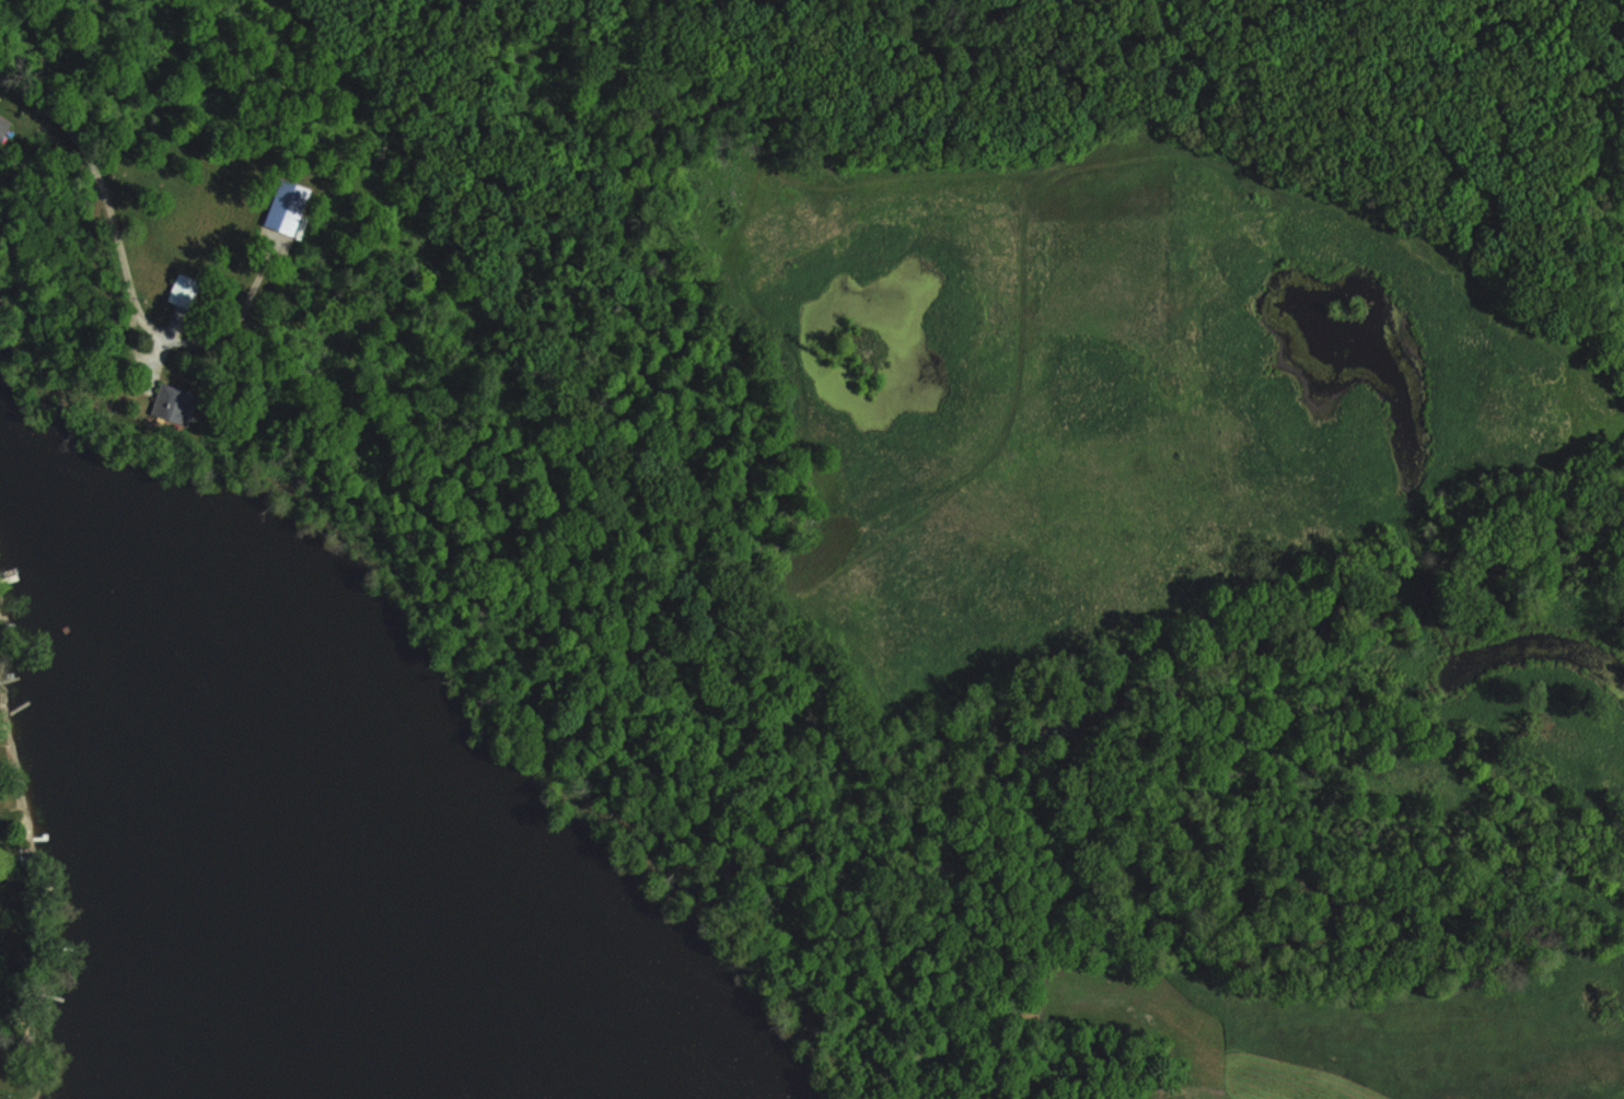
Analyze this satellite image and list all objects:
building: (3, 125)
road: (100, 178)
building: (286, 207)
building: (183, 290)
building: (173, 402)

